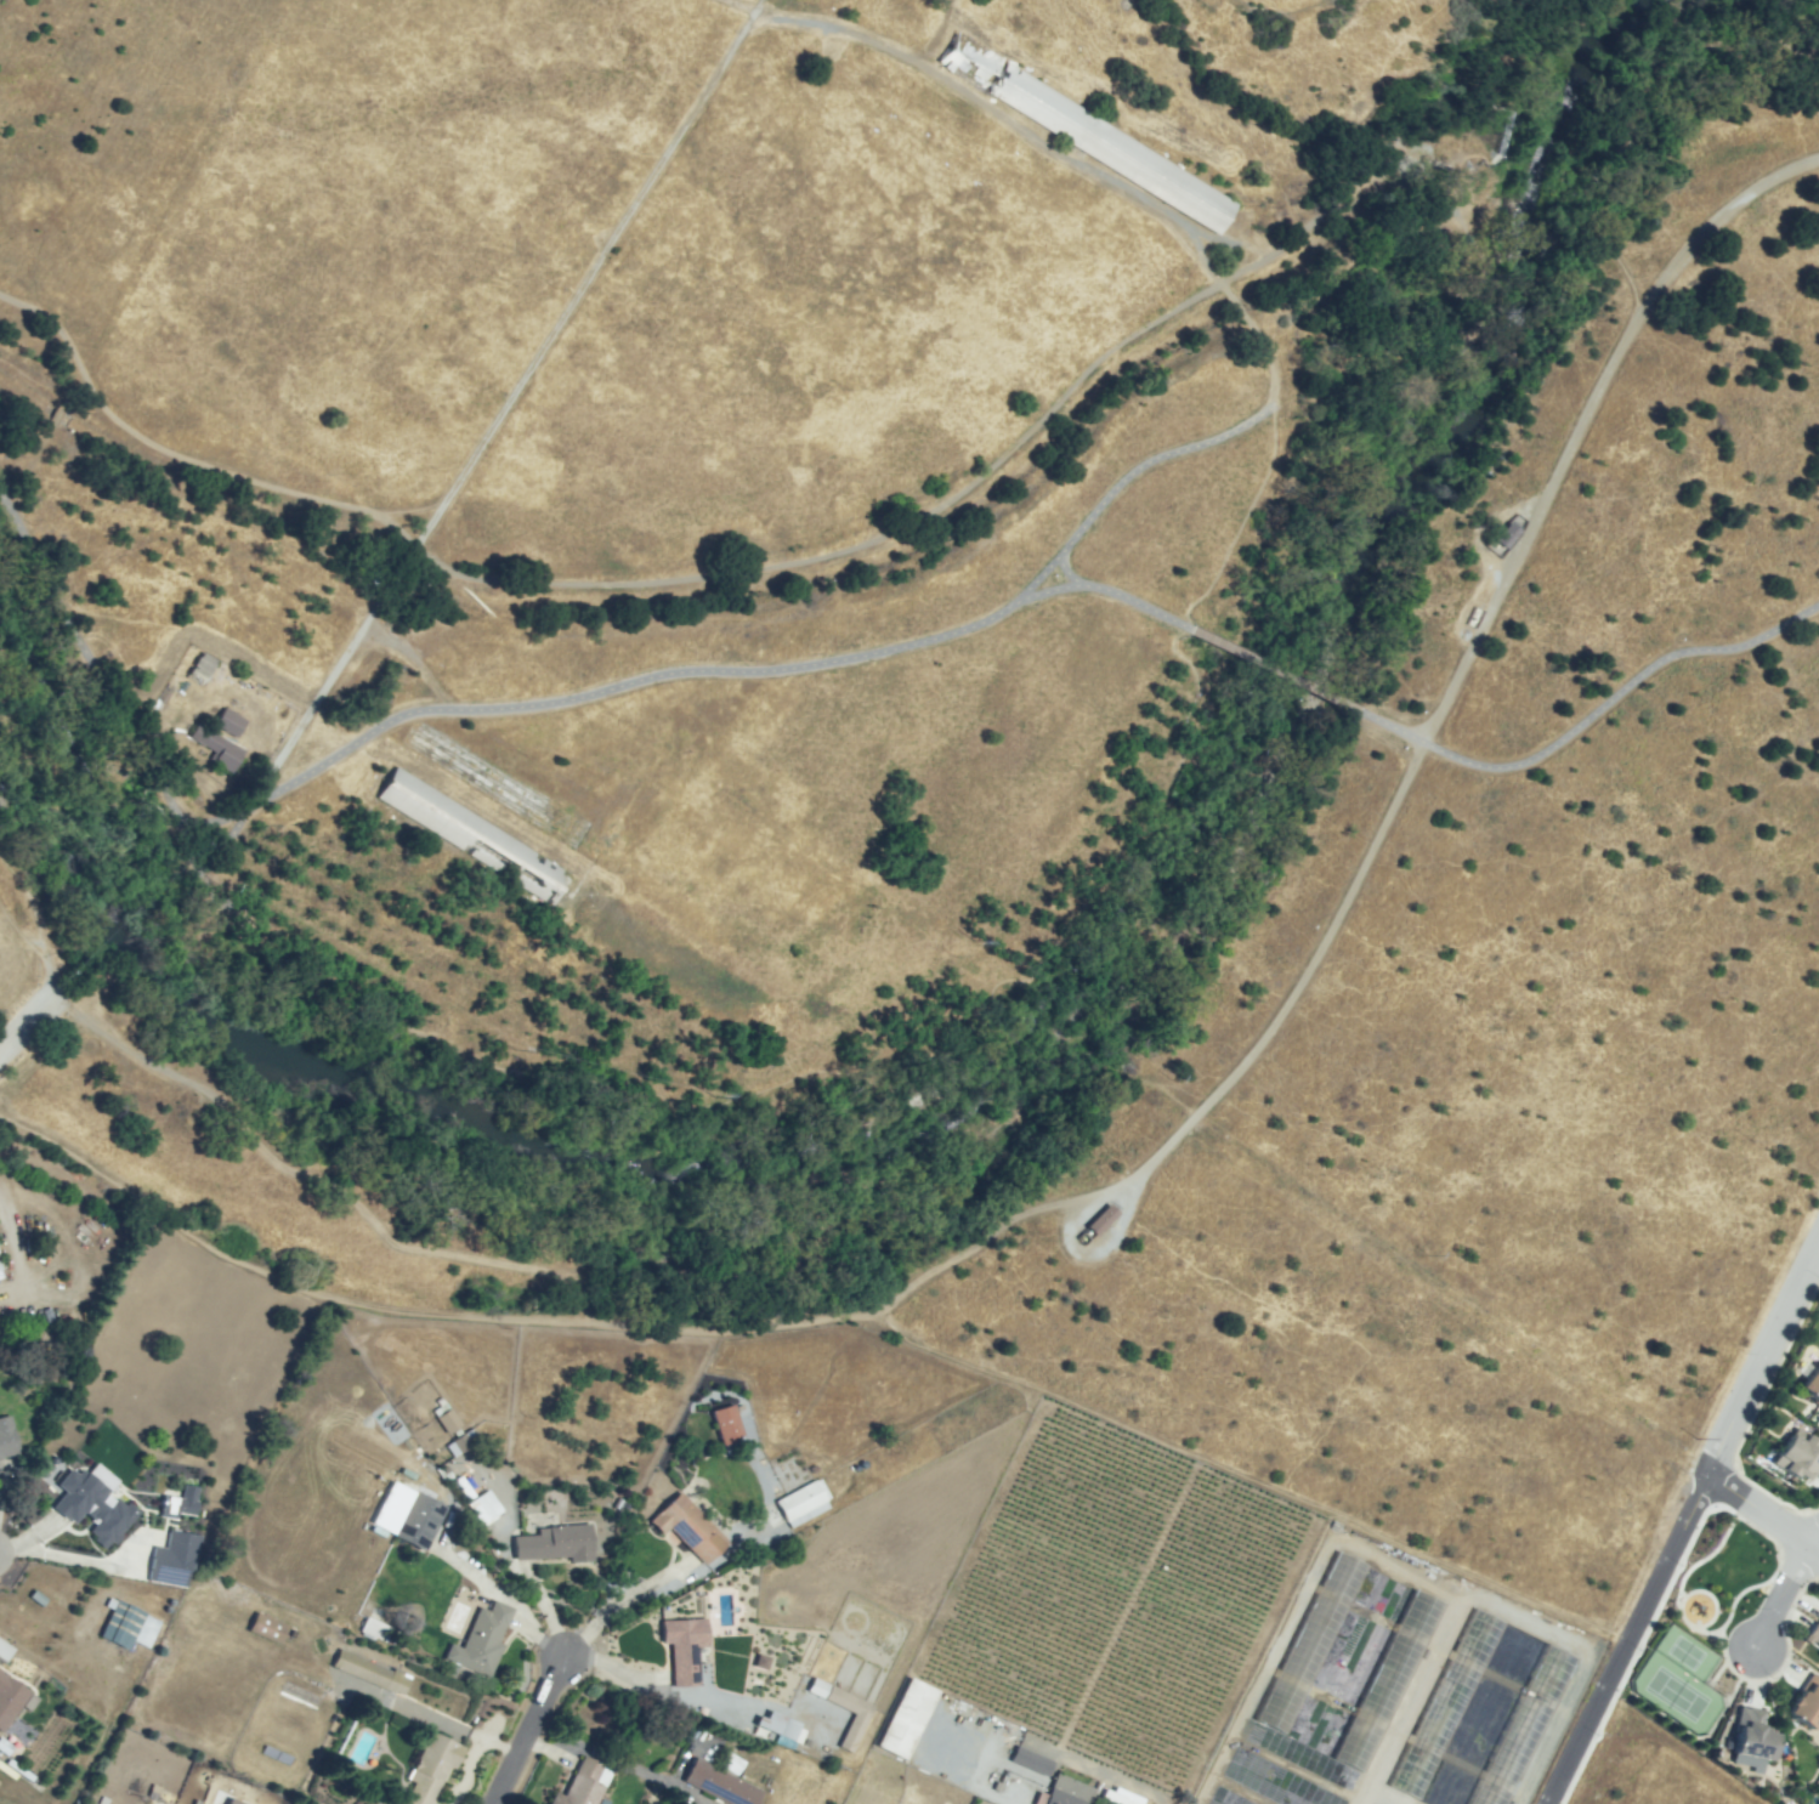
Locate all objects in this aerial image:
road: (756, 5)
road: (752, 8)
road: (1633, 127)
building: (1093, 135)
road: (159, 165)
road: (640, 214)
road: (1249, 333)
road: (62, 371)
road: (57, 414)
road: (29, 454)
building: (1506, 534)
road: (599, 585)
building: (200, 669)
road: (1277, 670)
road: (404, 677)
road: (1452, 680)
road: (1617, 692)
road: (500, 715)
building: (228, 722)
road: (1392, 724)
building: (216, 748)
building: (475, 839)
road: (194, 847)
road: (24, 1033)
parking lot: (2, 1051)
road: (928, 1071)
building: (1101, 1220)
road: (1096, 1249)
road: (500, 1260)
building: (0, 1270)
road: (277, 1273)
street lamp: (1818, 1278)
road: (1762, 1362)
building: (1812, 1384)
building: (725, 1424)
building: (457, 1435)
building: (6, 1437)
building: (1798, 1454)
road: (1235, 1473)
building: (177, 1502)
building: (800, 1502)
building: (486, 1504)
road: (1763, 1508)
building: (92, 1509)
building: (414, 1517)
building: (688, 1526)
road: (1817, 1539)
building: (557, 1543)
building: (140, 1551)
building: (171, 1559)
crop: (1121, 1595)
road: (1781, 1598)
road: (613, 1599)
road: (1684, 1616)
building: (120, 1624)
building: (266, 1628)
building: (373, 1630)
building: (42, 1632)
park: (1701, 1632)
building: (1814, 1635)
road: (1626, 1638)
building: (481, 1640)
building: (1309, 1641)
road: (1734, 1644)
building: (684, 1649)
building: (4, 1650)
building: (17, 1669)
building: (369, 1672)
building: (1385, 1680)
park: (1678, 1681)
building: (10, 1698)
road: (1409, 1700)
building: (1444, 1701)
building: (1808, 1706)
building: (903, 1718)
building: (780, 1725)
road: (528, 1728)
building: (1521, 1728)
building: (852, 1730)
building: (1753, 1734)
building: (1028, 1762)
building: (429, 1770)
building: (714, 1777)
building: (580, 1785)
building: (1069, 1792)
building: (232, 1802)

